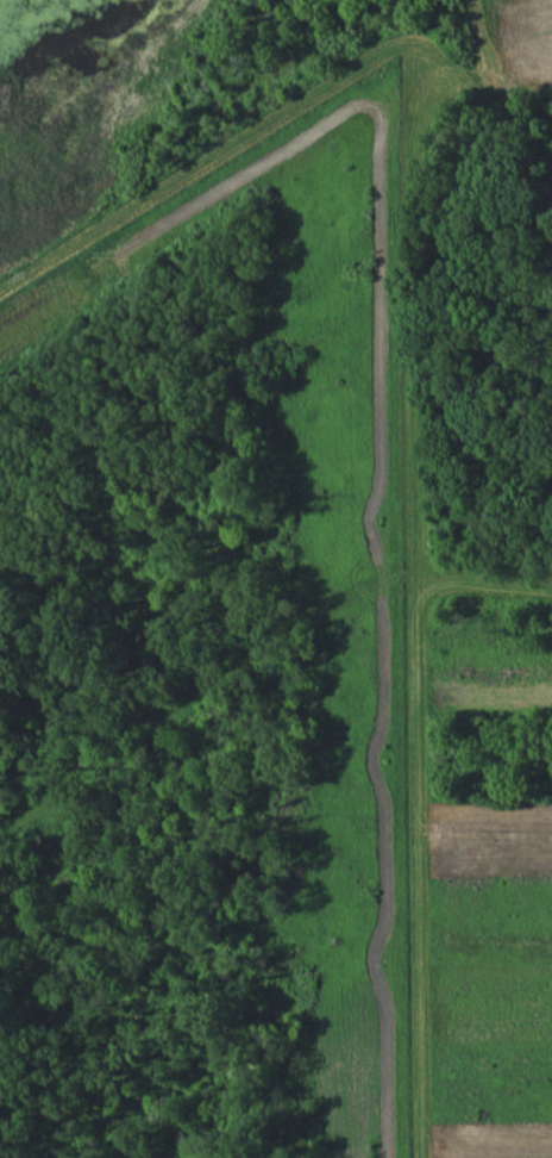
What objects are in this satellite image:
road: (68, 711)

